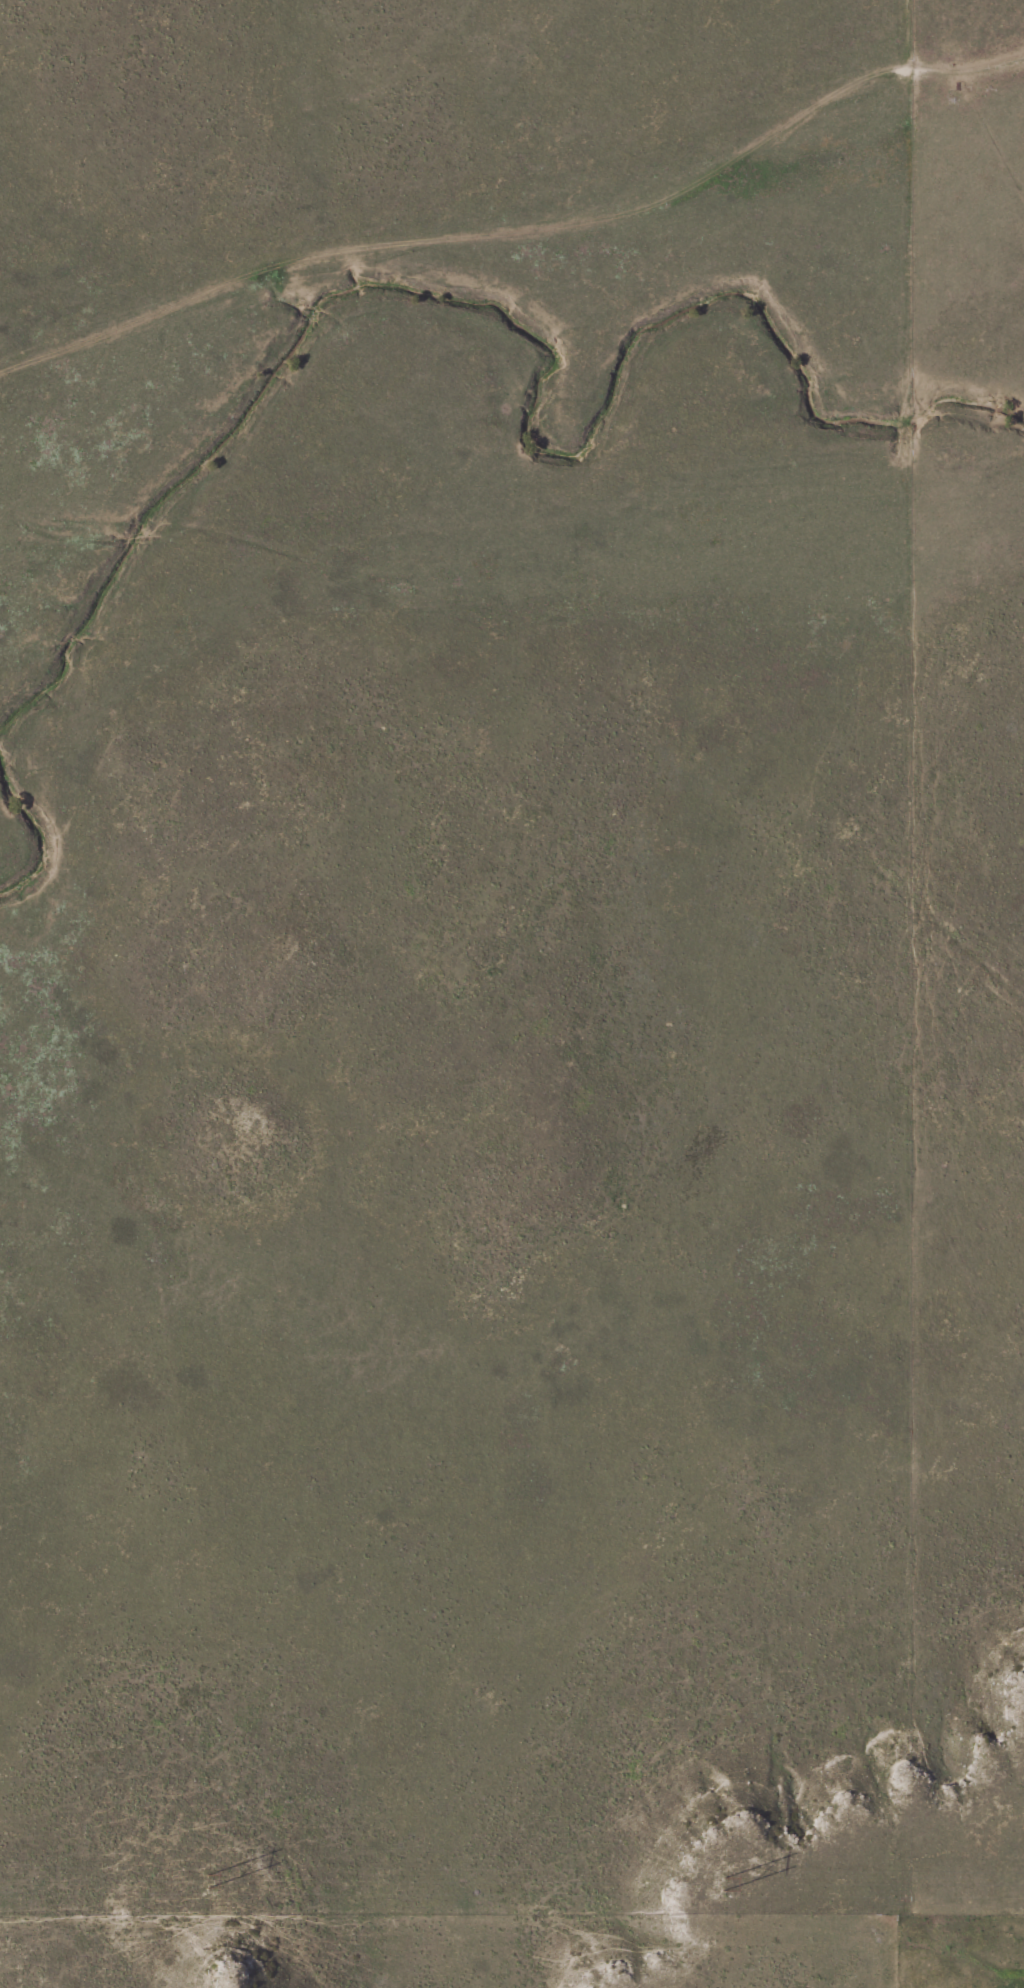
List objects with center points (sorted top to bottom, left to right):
power tower: (206, 1881)
power tower: (721, 1884)

